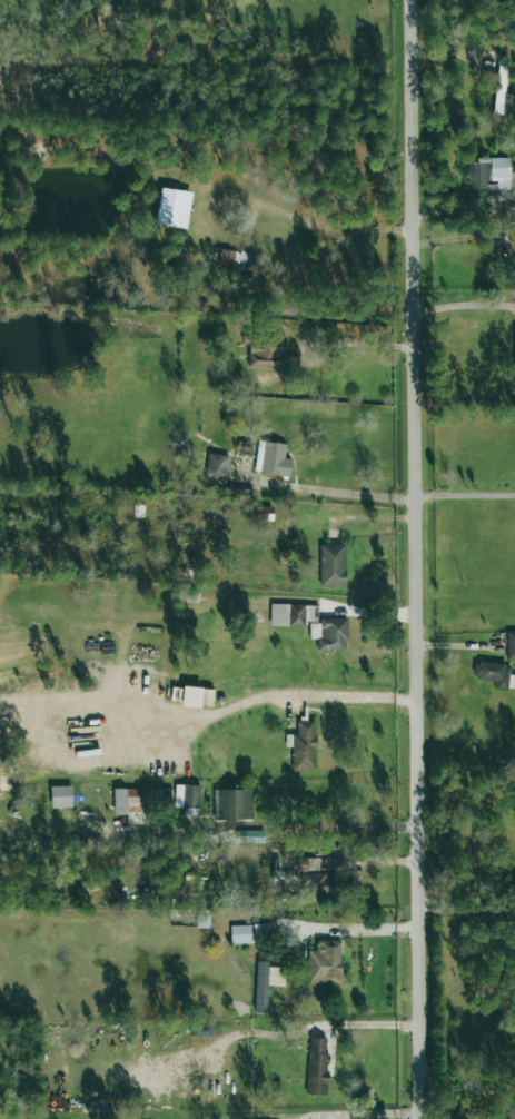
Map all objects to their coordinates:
building: (501, 91)
building: (491, 174)
building: (234, 259)
road: (465, 304)
building: (514, 346)
road: (350, 348)
building: (266, 351)
building: (271, 459)
building: (216, 467)
road: (335, 491)
road: (465, 495)
building: (263, 513)
road: (416, 559)
building: (331, 565)
building: (290, 615)
building: (329, 634)
building: (511, 645)
building: (197, 697)
road: (306, 701)
building: (303, 745)
building: (60, 796)
building: (187, 796)
building: (146, 802)
building: (235, 804)
road: (260, 824)
road: (406, 824)
building: (250, 836)
building: (314, 878)
building: (201, 921)
building: (247, 934)
road: (205, 941)
building: (325, 963)
building: (266, 983)
road: (321, 1033)
building: (317, 1066)

